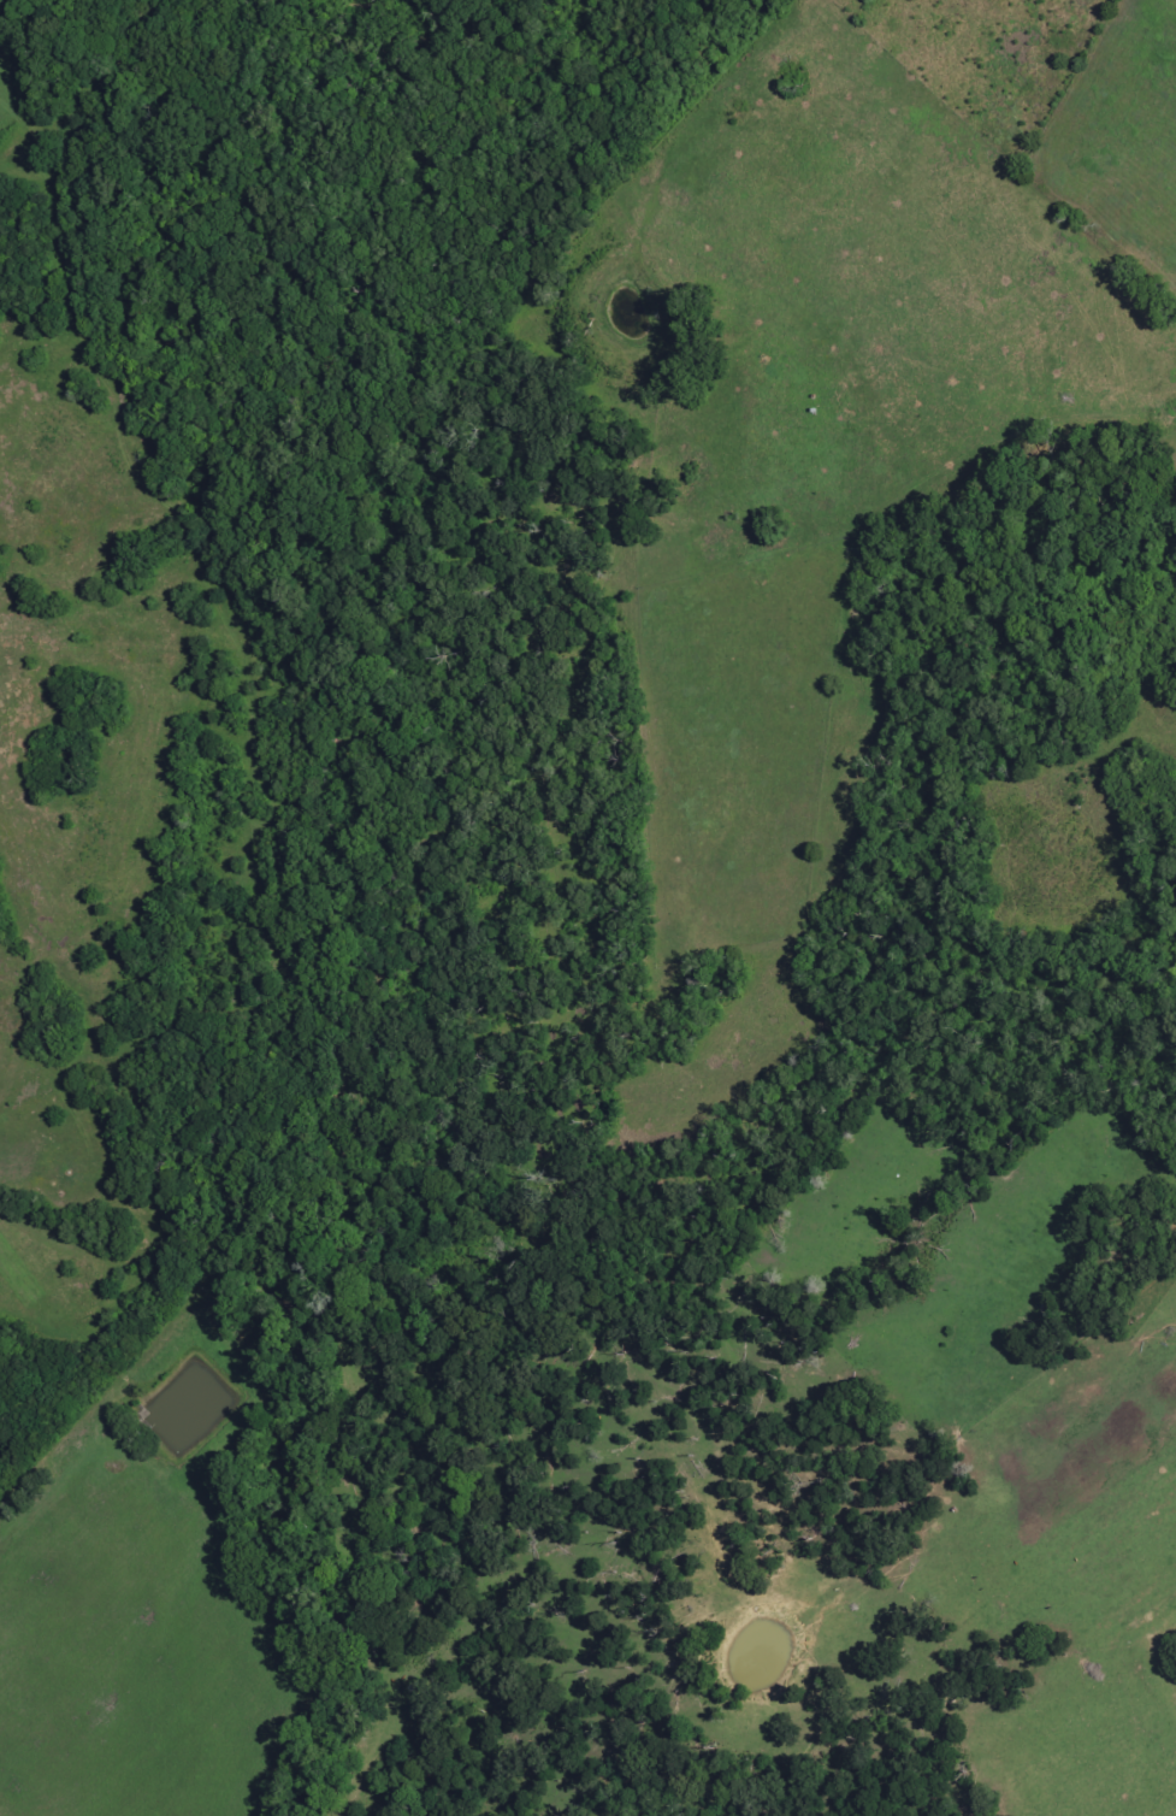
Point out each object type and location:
road: (1174, 1806)

